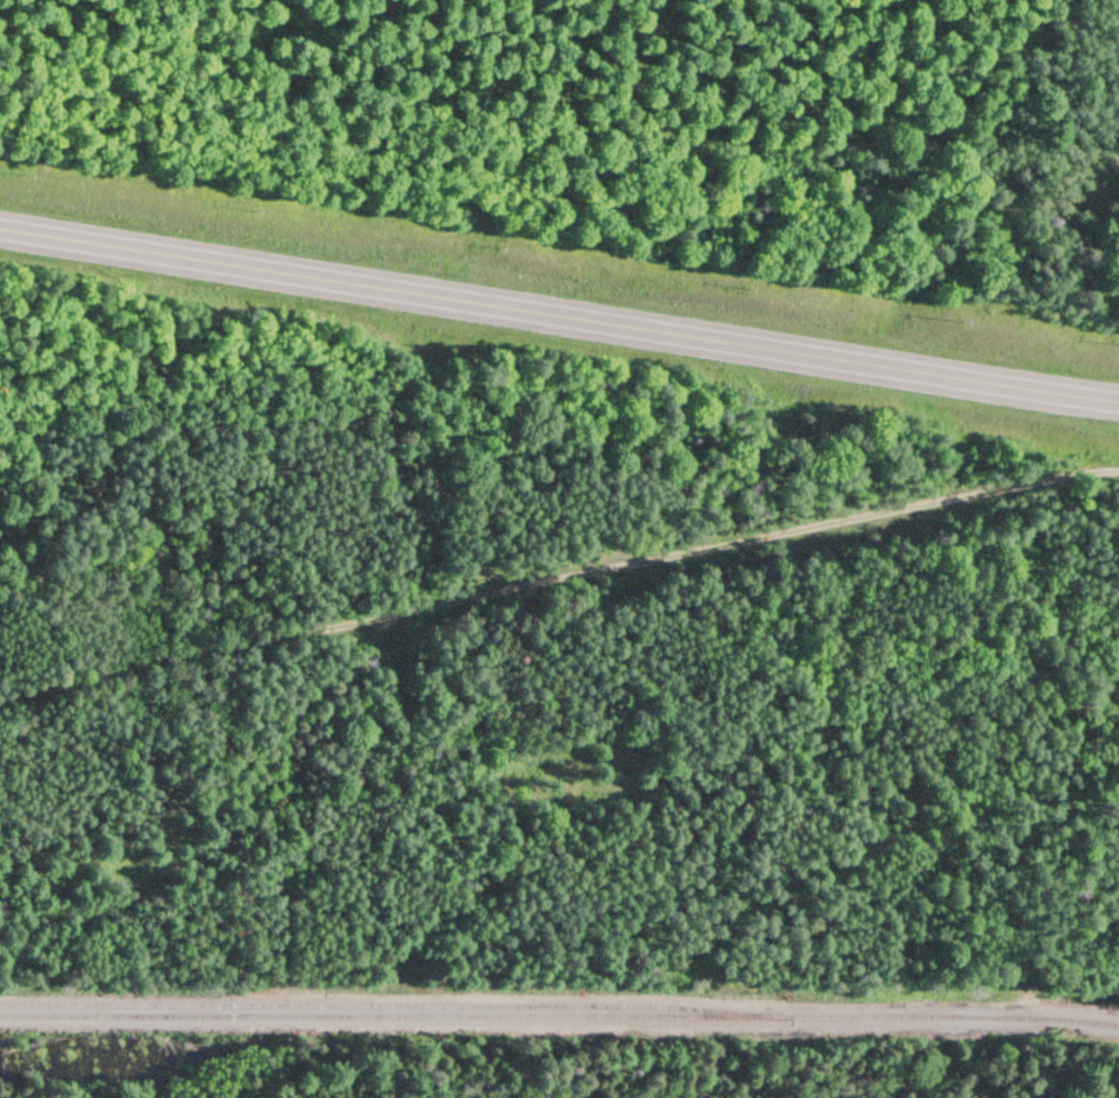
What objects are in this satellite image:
road: (559, 318)
road: (558, 578)
railway: (559, 1014)

